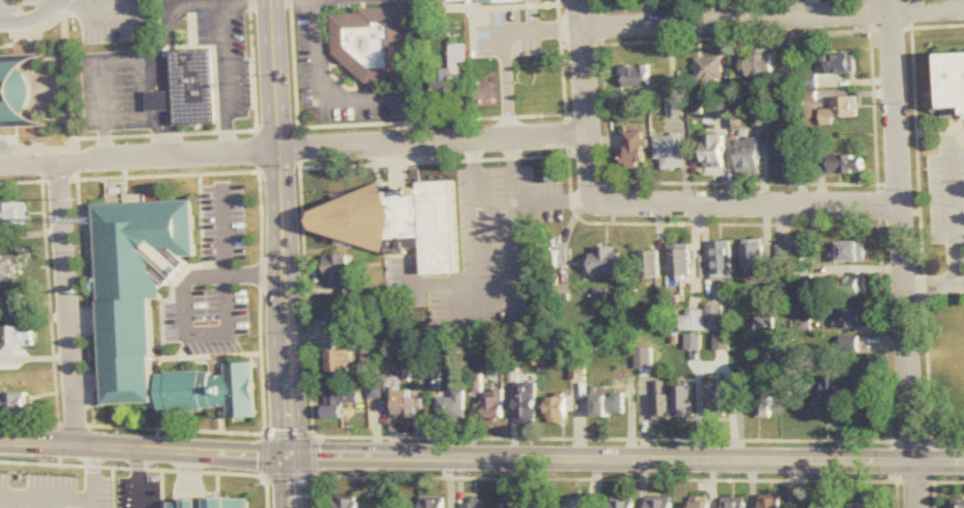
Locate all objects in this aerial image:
building: (435, 7)
road: (530, 15)
road: (772, 17)
road: (171, 28)
road: (536, 29)
building: (375, 44)
road: (225, 53)
building: (839, 63)
building: (760, 64)
building: (710, 70)
building: (450, 73)
road: (274, 75)
road: (101, 82)
building: (636, 82)
building: (954, 83)
road: (323, 86)
building: (196, 89)
building: (16, 92)
road: (506, 97)
road: (585, 97)
road: (164, 102)
building: (719, 108)
building: (677, 109)
building: (841, 110)
road: (167, 134)
road: (433, 144)
building: (636, 149)
building: (671, 150)
building: (716, 154)
building: (751, 156)
building: (787, 157)
road: (138, 159)
building: (842, 164)
road: (748, 205)
building: (13, 214)
road: (954, 217)
building: (400, 222)
building: (851, 252)
road: (905, 253)
road: (226, 259)
building: (608, 260)
building: (682, 260)
building: (723, 260)
building: (756, 261)
building: (784, 261)
building: (651, 264)
building: (9, 269)
building: (340, 270)
road: (935, 284)
road: (189, 287)
building: (853, 287)
building: (136, 288)
road: (232, 300)
road: (282, 302)
building: (13, 305)
road: (69, 305)
road: (505, 310)
building: (716, 317)
building: (854, 319)
building: (334, 322)
building: (767, 324)
road: (212, 333)
building: (16, 337)
building: (340, 361)
building: (211, 391)
building: (766, 396)
building: (663, 401)
building: (831, 401)
building: (716, 402)
building: (340, 403)
building: (15, 404)
building: (409, 404)
building: (497, 404)
building: (528, 404)
building: (610, 405)
building: (453, 406)
building: (559, 410)
road: (143, 451)
traffic signals: (288, 456)
road: (625, 459)
road: (94, 478)
road: (141, 479)
road: (289, 482)
building: (775, 501)
building: (435, 502)
building: (737, 502)
building: (208, 503)
building: (350, 503)
building: (475, 503)
building: (625, 503)
building: (662, 503)
building: (581, 504)
building: (702, 504)
building: (823, 504)
building: (515, 505)
building: (865, 505)
building: (958, 505)

